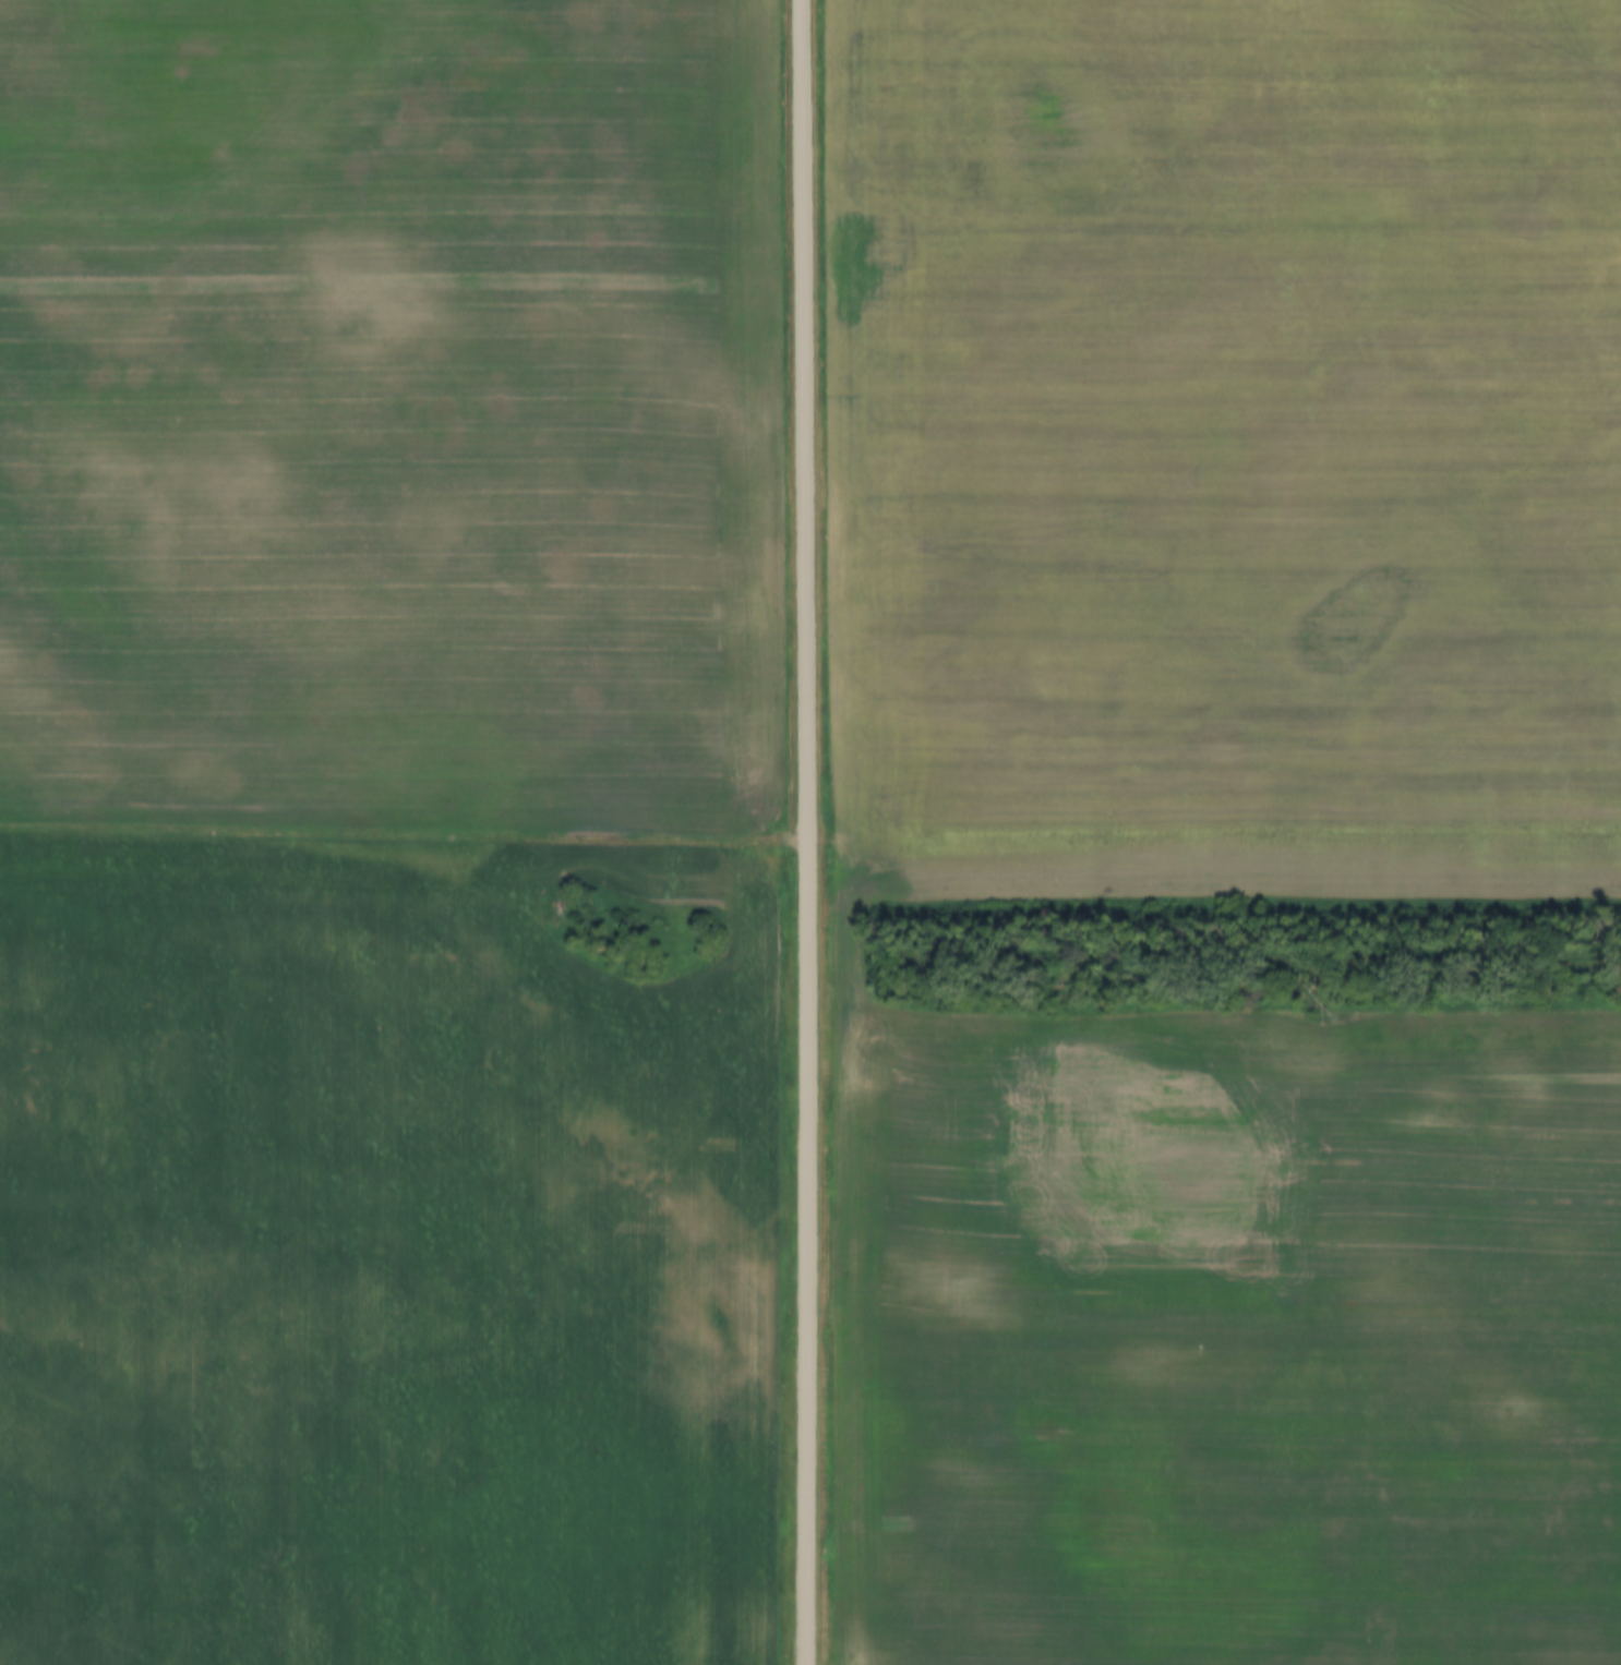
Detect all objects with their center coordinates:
road: (805, 832)
road: (810, 834)

